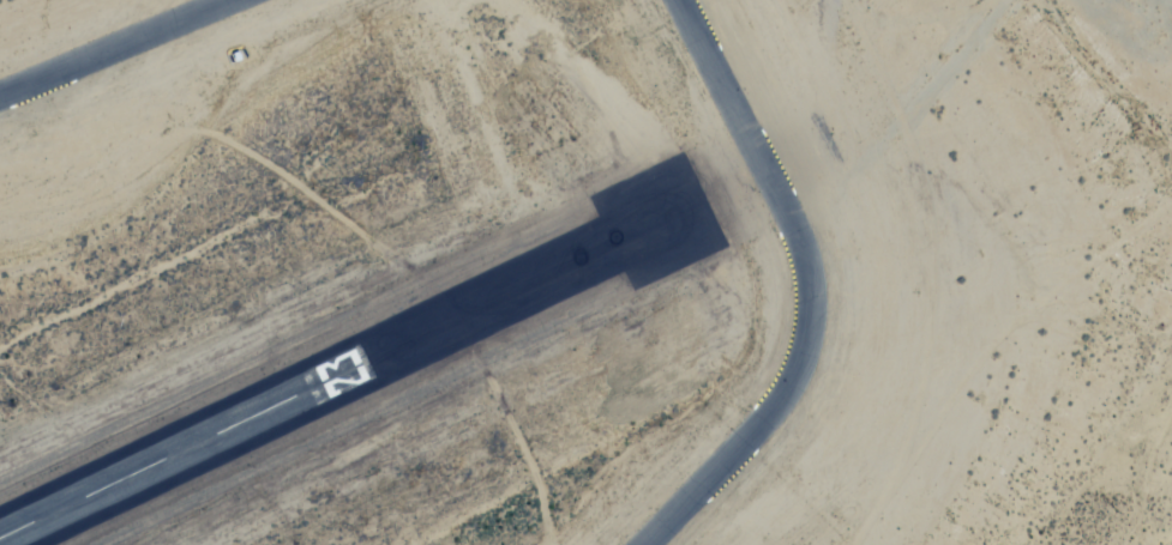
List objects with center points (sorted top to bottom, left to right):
raceway: (115, 47)
airport runway: (529, 280)
raceway: (810, 287)
airport: (379, 332)
airport runway: (184, 447)

